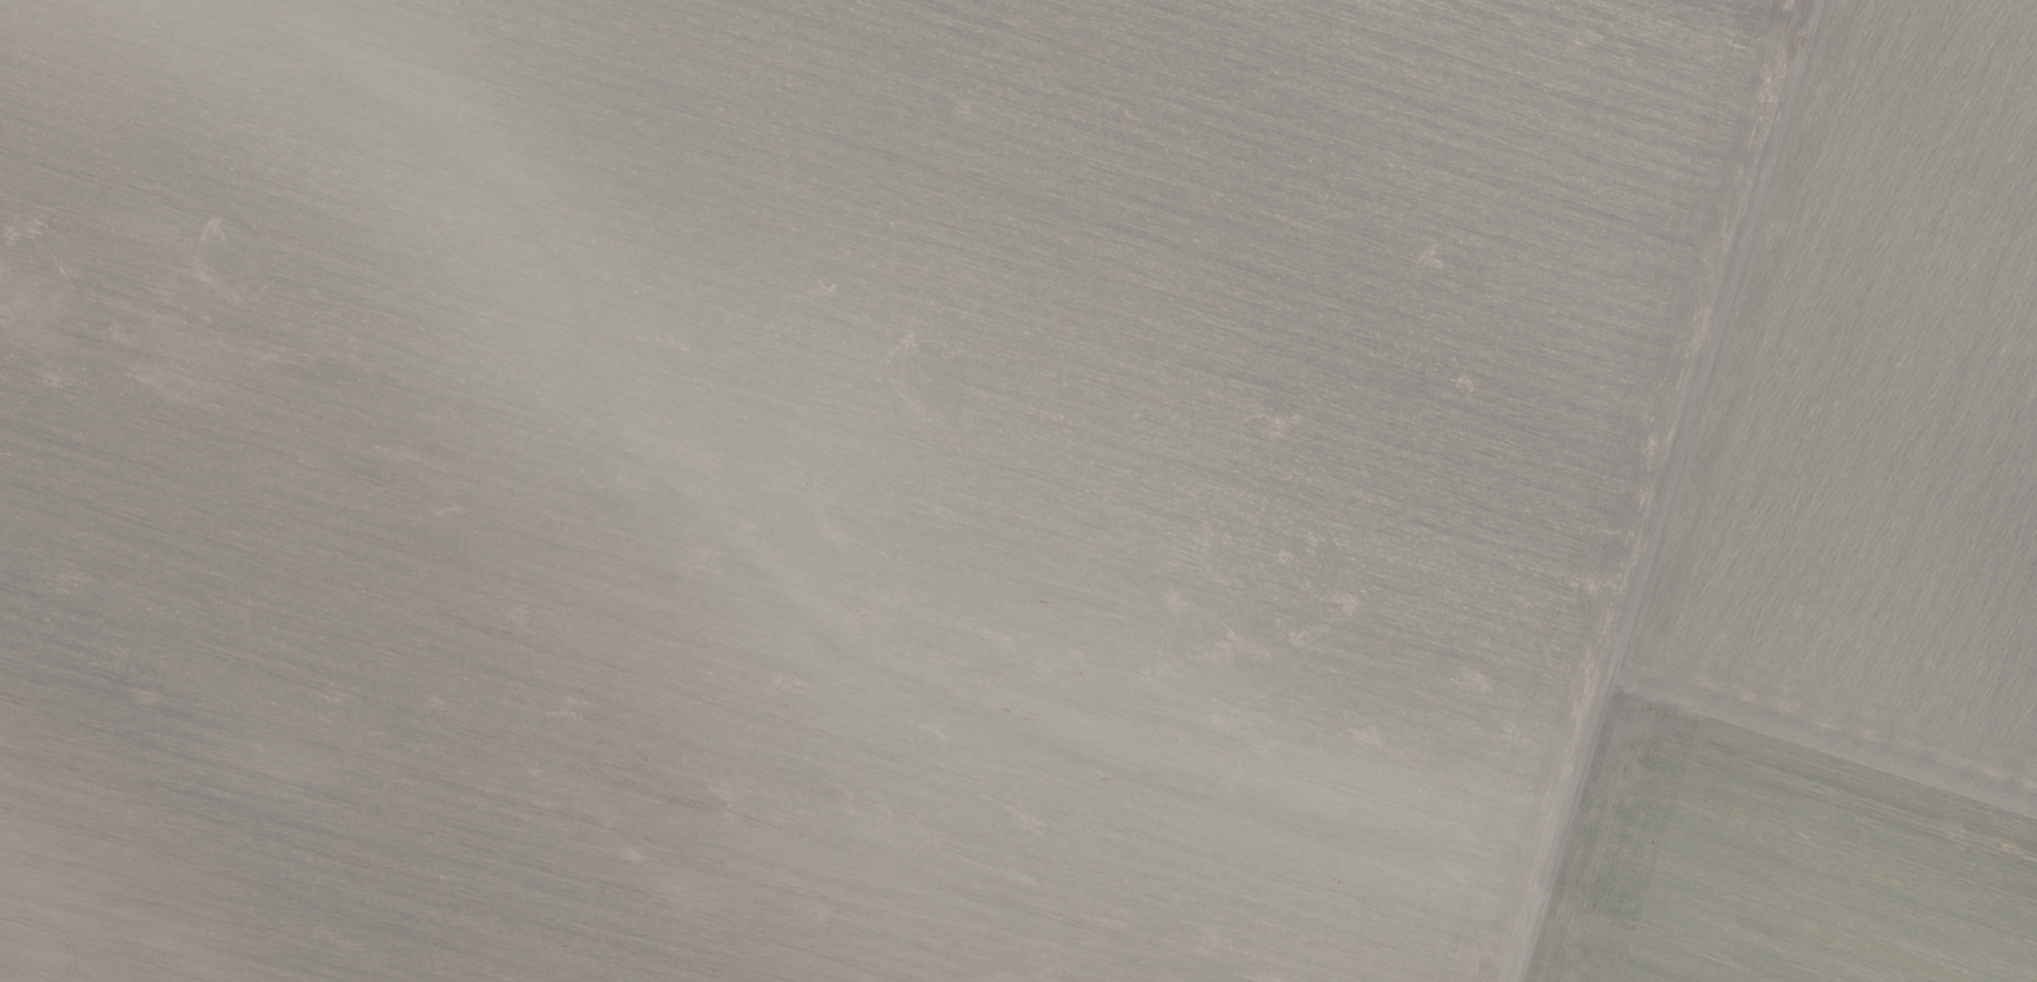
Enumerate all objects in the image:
road: (1664, 491)

